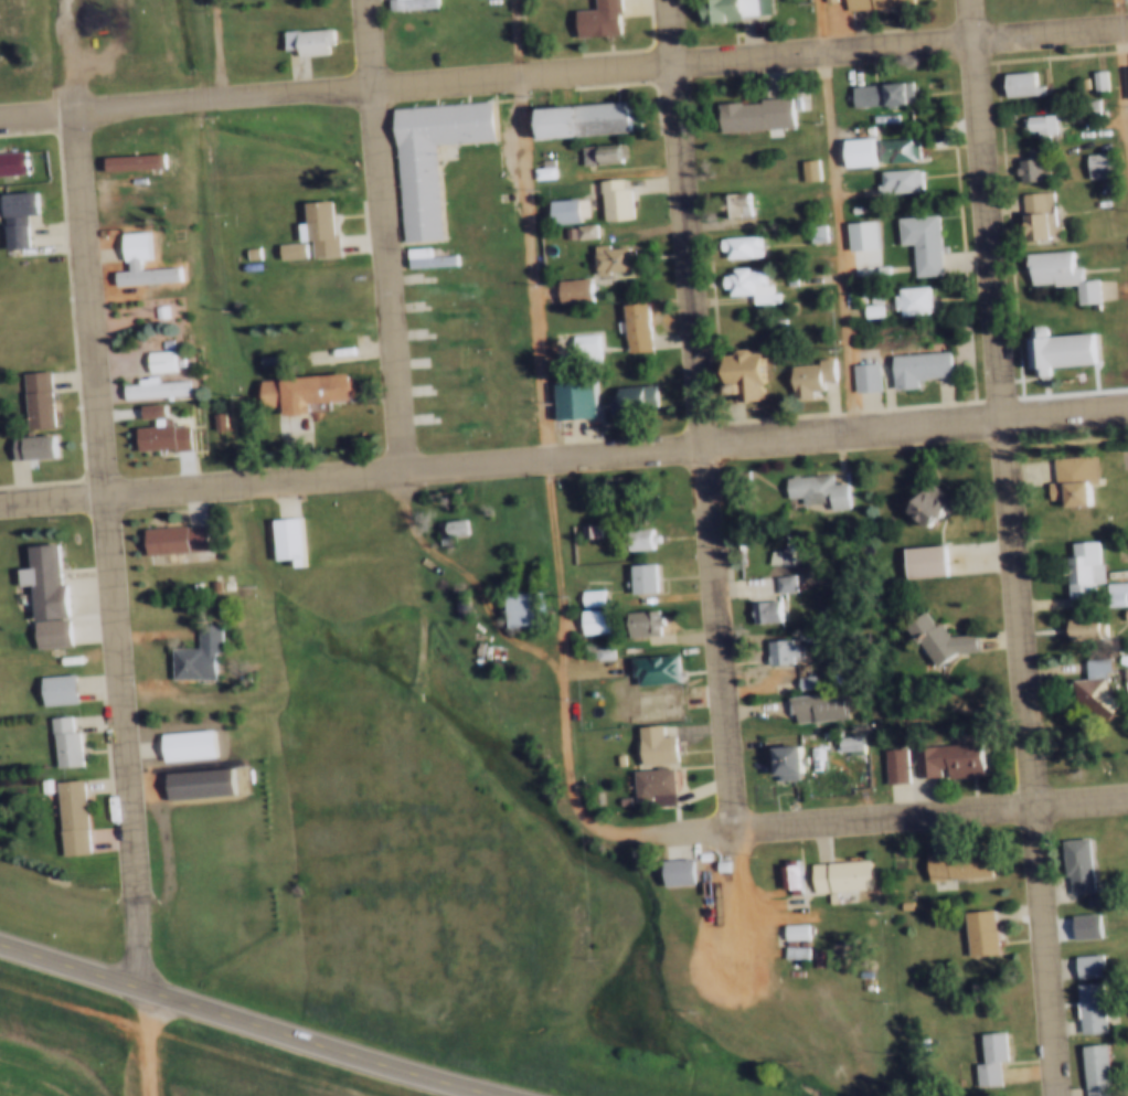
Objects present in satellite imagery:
building: (869, 3)
building: (406, 4)
building: (731, 9)
building: (595, 19)
building: (417, 32)
road: (671, 34)
building: (305, 41)
road: (372, 45)
road: (1125, 46)
road: (222, 51)
road: (564, 76)
building: (1092, 79)
building: (1102, 79)
building: (1125, 81)
building: (1015, 84)
building: (875, 94)
building: (1090, 108)
building: (751, 115)
building: (576, 121)
building: (1032, 121)
building: (891, 150)
building: (853, 152)
building: (595, 155)
building: (426, 158)
building: (10, 162)
building: (131, 163)
building: (1093, 163)
building: (1025, 164)
building: (539, 168)
building: (804, 169)
building: (812, 169)
building: (893, 179)
building: (609, 200)
building: (728, 203)
building: (847, 206)
building: (560, 211)
building: (1029, 214)
road: (837, 215)
building: (14, 217)
building: (316, 231)
building: (579, 231)
building: (588, 231)
building: (563, 232)
building: (855, 232)
building: (914, 241)
building: (734, 245)
building: (247, 253)
building: (288, 253)
building: (424, 258)
building: (129, 259)
building: (608, 259)
building: (1053, 272)
road: (392, 280)
building: (743, 283)
building: (333, 287)
building: (568, 288)
building: (906, 298)
building: (865, 305)
building: (155, 310)
building: (631, 326)
building: (160, 343)
building: (578, 347)
building: (1051, 348)
building: (264, 358)
building: (156, 361)
building: (912, 364)
building: (742, 372)
building: (802, 372)
building: (858, 373)
building: (870, 376)
building: (150, 389)
building: (300, 392)
building: (625, 398)
building: (570, 400)
building: (33, 401)
building: (444, 403)
building: (212, 419)
building: (159, 437)
road: (704, 447)
building: (31, 448)
road: (564, 457)
building: (1063, 475)
road: (552, 485)
building: (807, 485)
building: (1124, 493)
building: (923, 502)
building: (443, 526)
building: (459, 526)
building: (581, 528)
road: (414, 532)
building: (632, 535)
building: (172, 539)
building: (283, 539)
building: (776, 544)
road: (1013, 547)
road: (108, 549)
building: (915, 555)
building: (1073, 564)
building: (1088, 567)
building: (632, 574)
building: (774, 576)
building: (647, 577)
building: (789, 582)
building: (220, 583)
building: (188, 584)
building: (206, 584)
building: (1106, 586)
building: (583, 593)
building: (1120, 593)
building: (42, 595)
building: (596, 597)
building: (756, 605)
building: (513, 606)
building: (1120, 606)
building: (212, 607)
building: (769, 610)
building: (811, 611)
building: (586, 616)
building: (631, 617)
building: (599, 620)
building: (648, 621)
building: (1074, 621)
building: (1088, 630)
building: (1126, 631)
building: (927, 632)
building: (769, 645)
building: (593, 647)
building: (785, 651)
building: (192, 652)
building: (646, 663)
building: (794, 674)
building: (1083, 681)
building: (811, 682)
building: (1100, 687)
building: (1122, 688)
building: (54, 689)
building: (646, 698)
building: (806, 698)
building: (838, 734)
building: (647, 739)
building: (58, 742)
building: (855, 742)
building: (183, 744)
building: (936, 752)
building: (777, 754)
building: (882, 757)
building: (790, 760)
building: (901, 765)
storage tank: (240, 772)
building: (643, 779)
building: (38, 783)
building: (193, 783)
building: (610, 794)
road: (929, 809)
building: (64, 816)
building: (947, 858)
building: (1064, 858)
building: (667, 864)
building: (1082, 864)
building: (777, 866)
building: (830, 868)
building: (796, 874)
building: (784, 923)
building: (968, 925)
building: (801, 929)
building: (986, 933)
building: (784, 944)
building: (801, 950)
building: (1076, 958)
building: (1094, 966)
building: (1076, 1000)
building: (1096, 1007)
road: (252, 1018)
road: (145, 1040)
building: (977, 1051)
building: (996, 1057)
building: (1082, 1066)
building: (1102, 1070)

